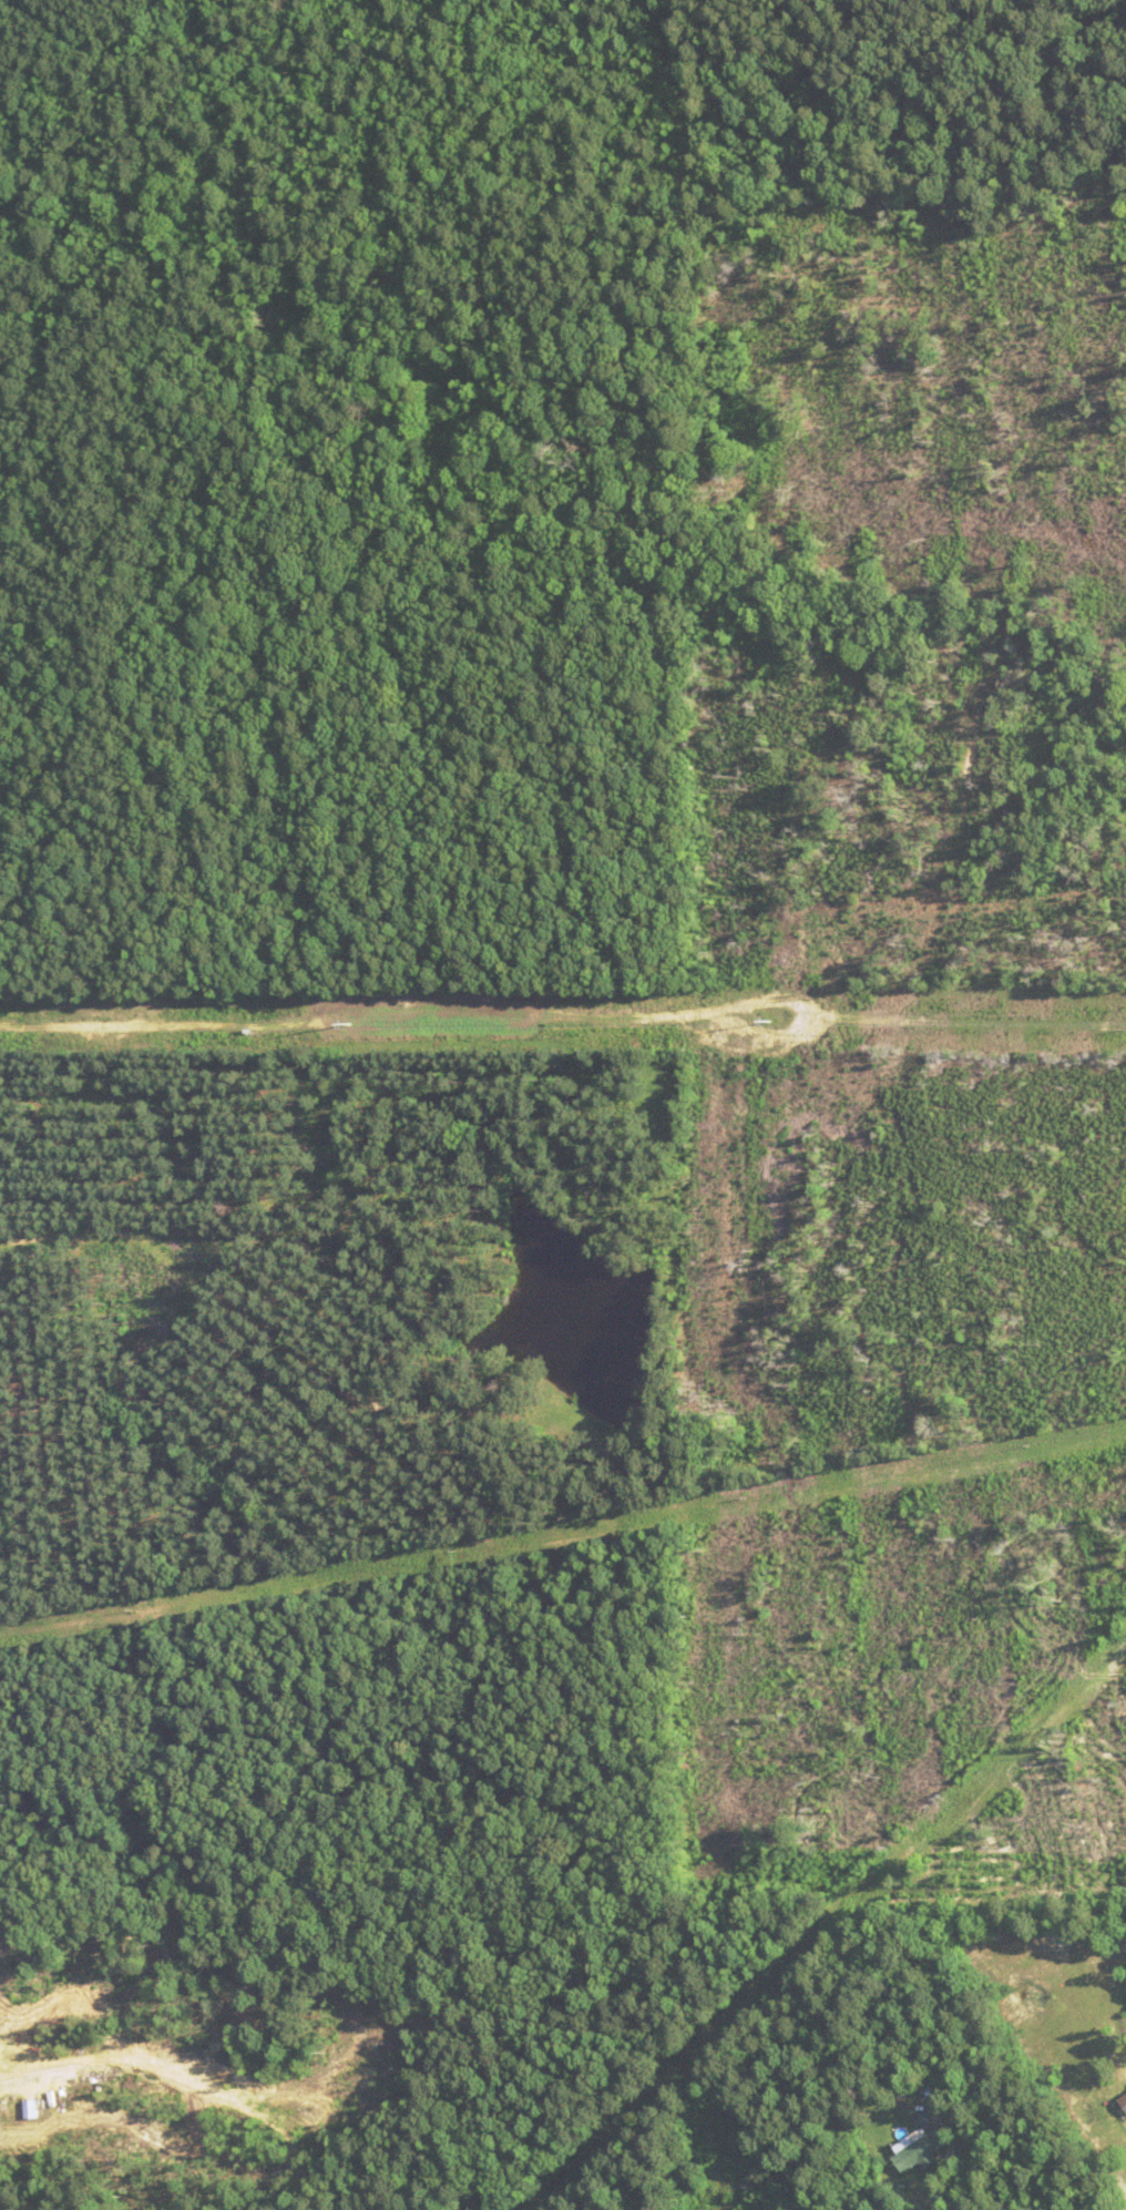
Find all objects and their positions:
building: (678, 1101)
building: (1124, 2100)
building: (922, 2150)

